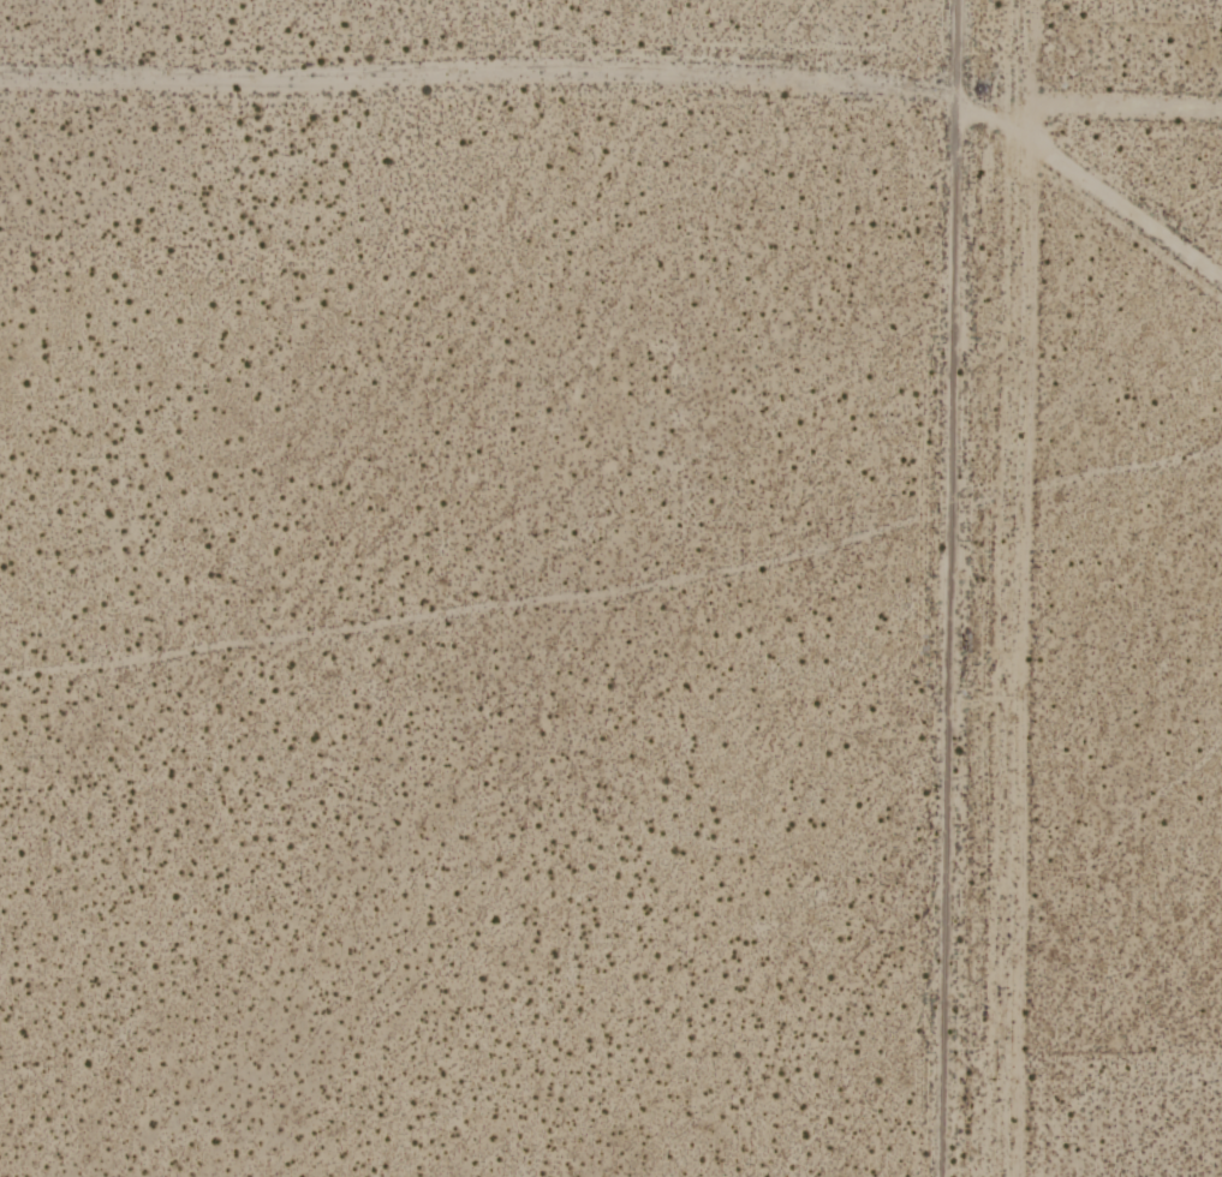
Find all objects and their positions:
road: (952, 587)
airport: (1141, 597)

